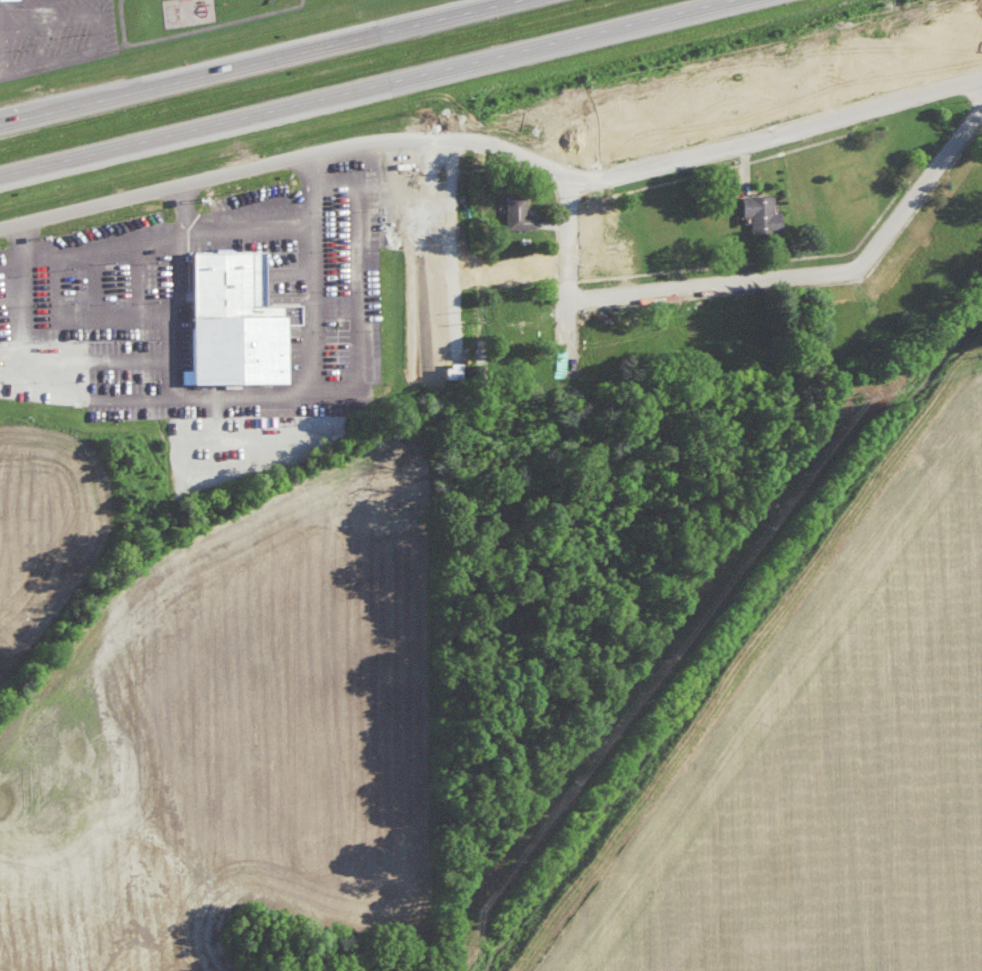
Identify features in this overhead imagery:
road: (251, 60)
road: (0, 74)
road: (358, 86)
road: (757, 137)
road: (265, 161)
road: (377, 197)
building: (514, 211)
building: (757, 212)
road: (236, 231)
road: (450, 244)
road: (12, 268)
road: (326, 271)
road: (567, 271)
road: (814, 271)
road: (368, 313)
road: (185, 314)
building: (246, 321)
road: (90, 364)
building: (447, 370)
road: (88, 399)

